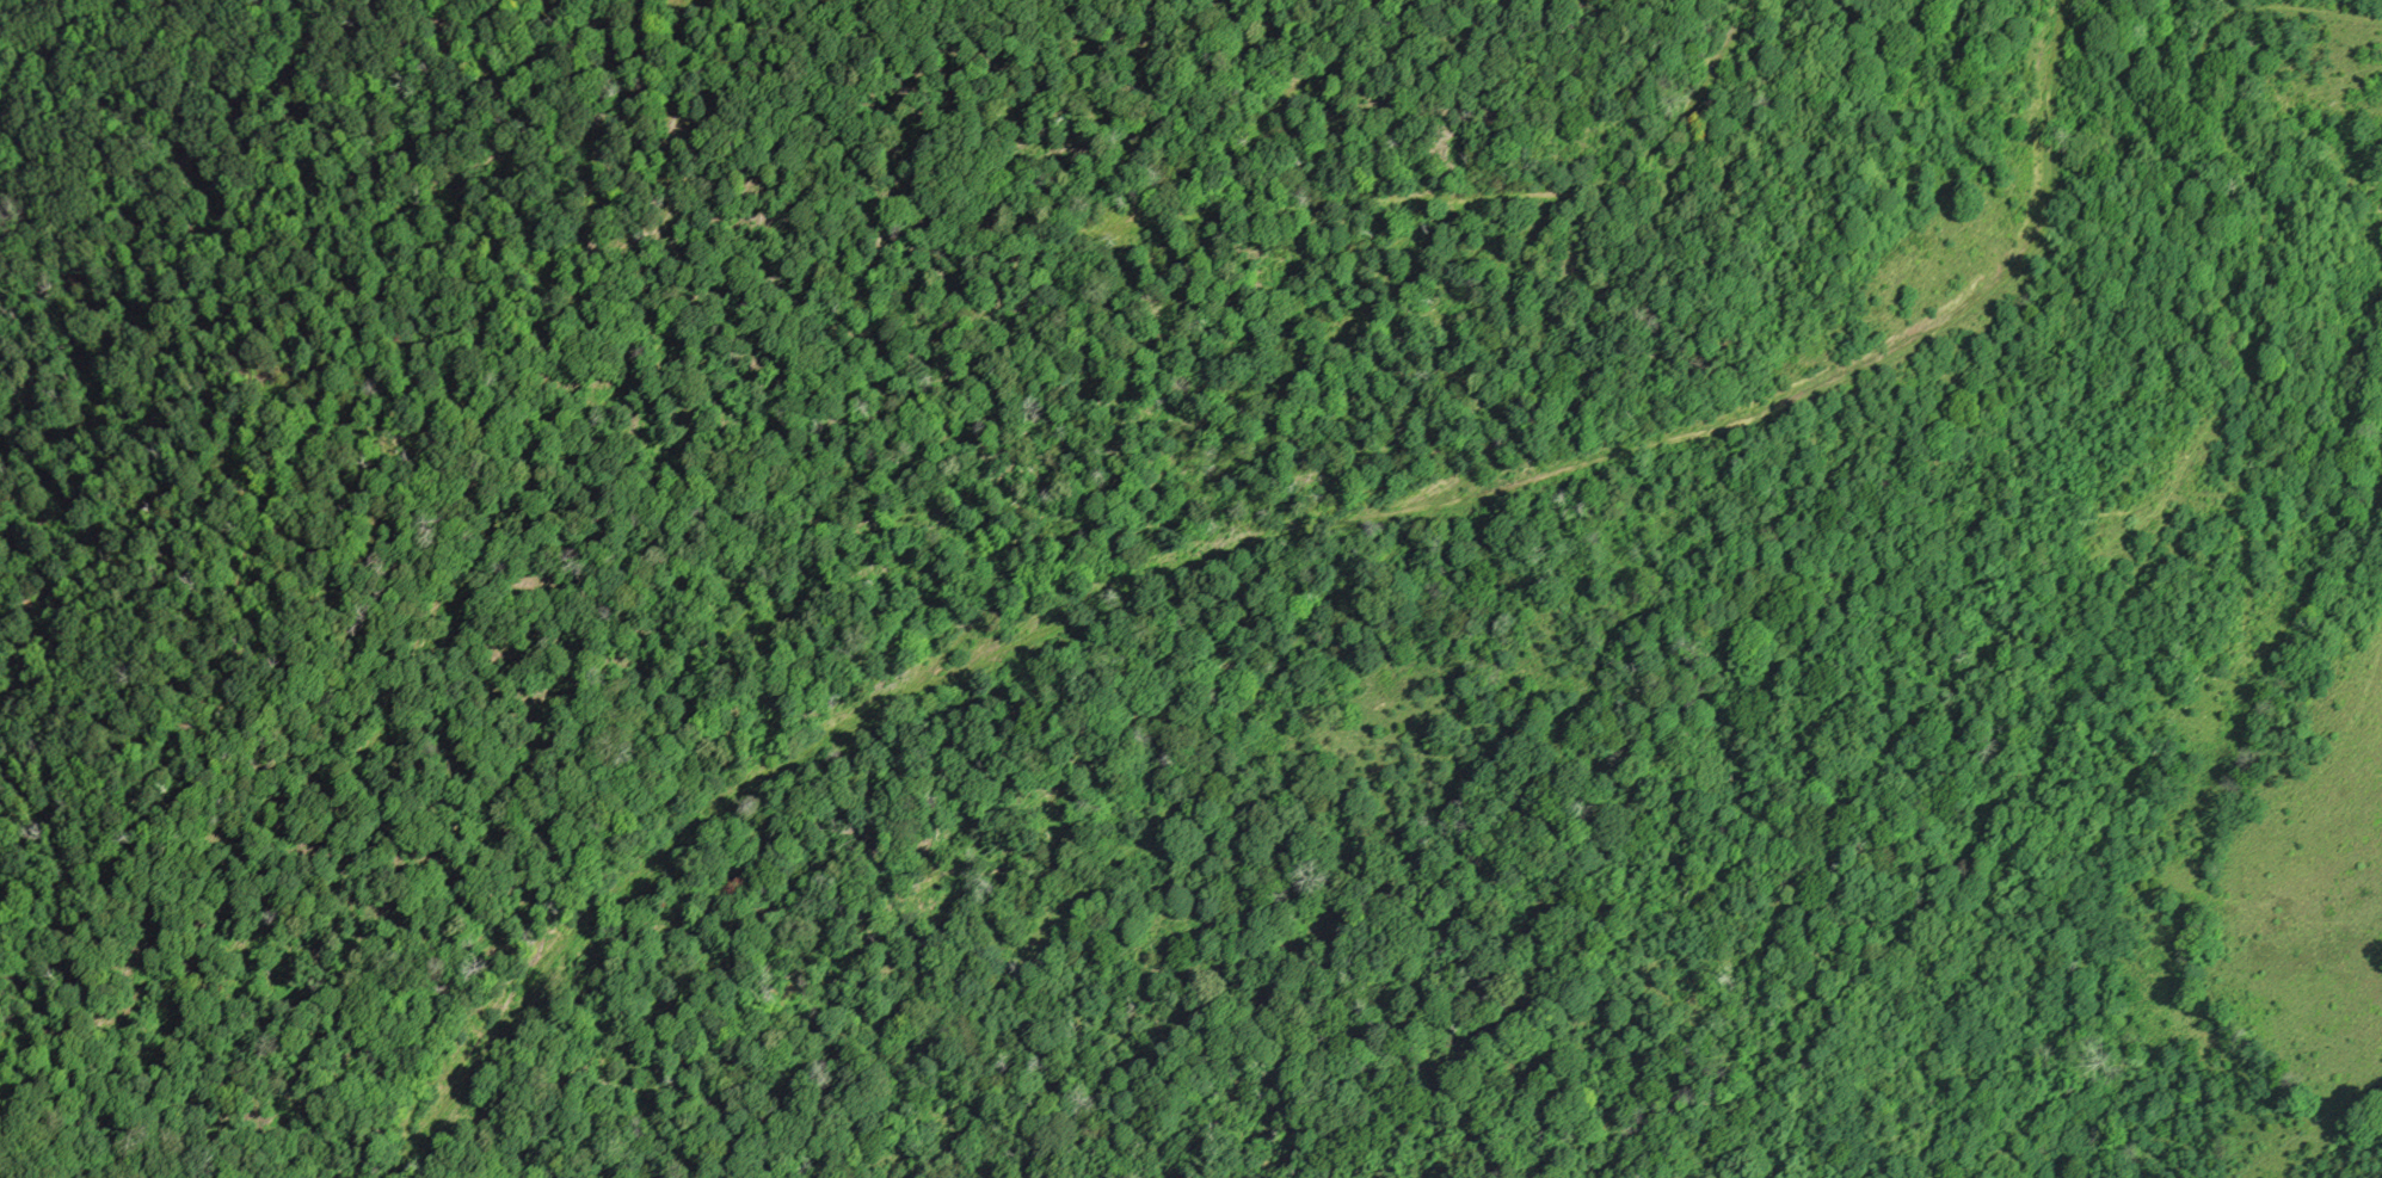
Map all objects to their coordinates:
road: (1238, 538)

